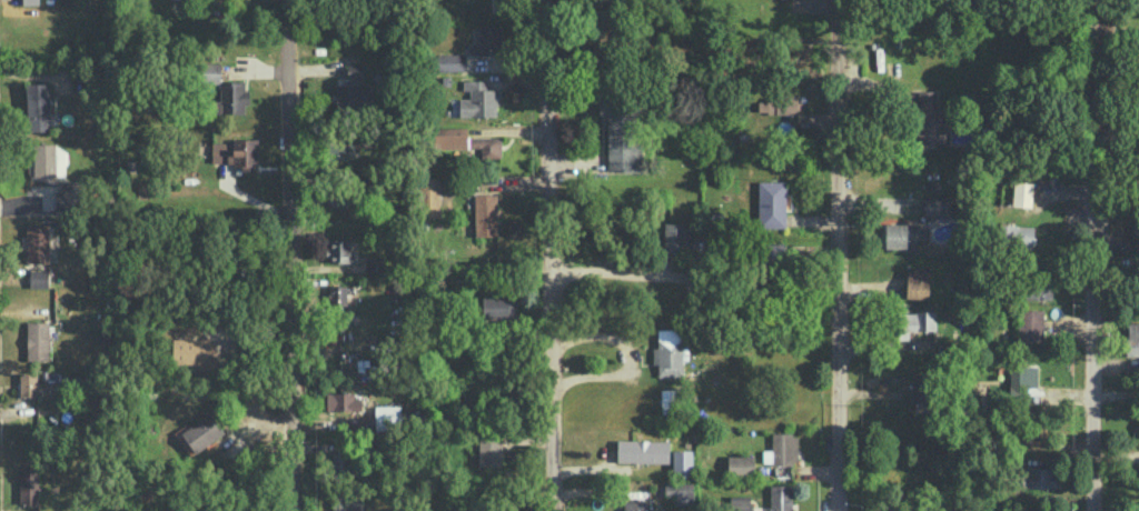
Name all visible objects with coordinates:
building: (30, 1)
building: (487, 40)
building: (450, 61)
building: (226, 90)
building: (351, 91)
building: (476, 100)
building: (780, 103)
building: (38, 107)
building: (621, 134)
building: (450, 137)
building: (487, 146)
building: (344, 148)
building: (236, 152)
building: (49, 160)
building: (1022, 193)
building: (68, 196)
building: (429, 196)
building: (771, 203)
building: (935, 204)
building: (485, 213)
building: (1135, 228)
building: (903, 234)
building: (1016, 234)
building: (676, 237)
building: (37, 242)
building: (338, 250)
building: (774, 252)
road: (547, 254)
road: (289, 255)
road: (833, 255)
road: (1093, 255)
building: (374, 264)
road: (612, 271)
building: (38, 278)
building: (917, 281)
building: (1038, 290)
building: (336, 294)
building: (498, 307)
building: (914, 321)
building: (1030, 322)
building: (1132, 338)
building: (37, 340)
building: (194, 352)
building: (668, 352)
building: (1021, 378)
building: (27, 384)
building: (920, 387)
building: (668, 399)
building: (344, 401)
building: (387, 417)
building: (201, 432)
building: (784, 448)
building: (489, 449)
building: (643, 450)
building: (339, 461)
building: (682, 462)
building: (741, 464)
building: (1040, 478)
building: (28, 484)
building: (677, 489)
building: (781, 497)
building: (349, 502)
building: (740, 502)
building: (632, 505)

